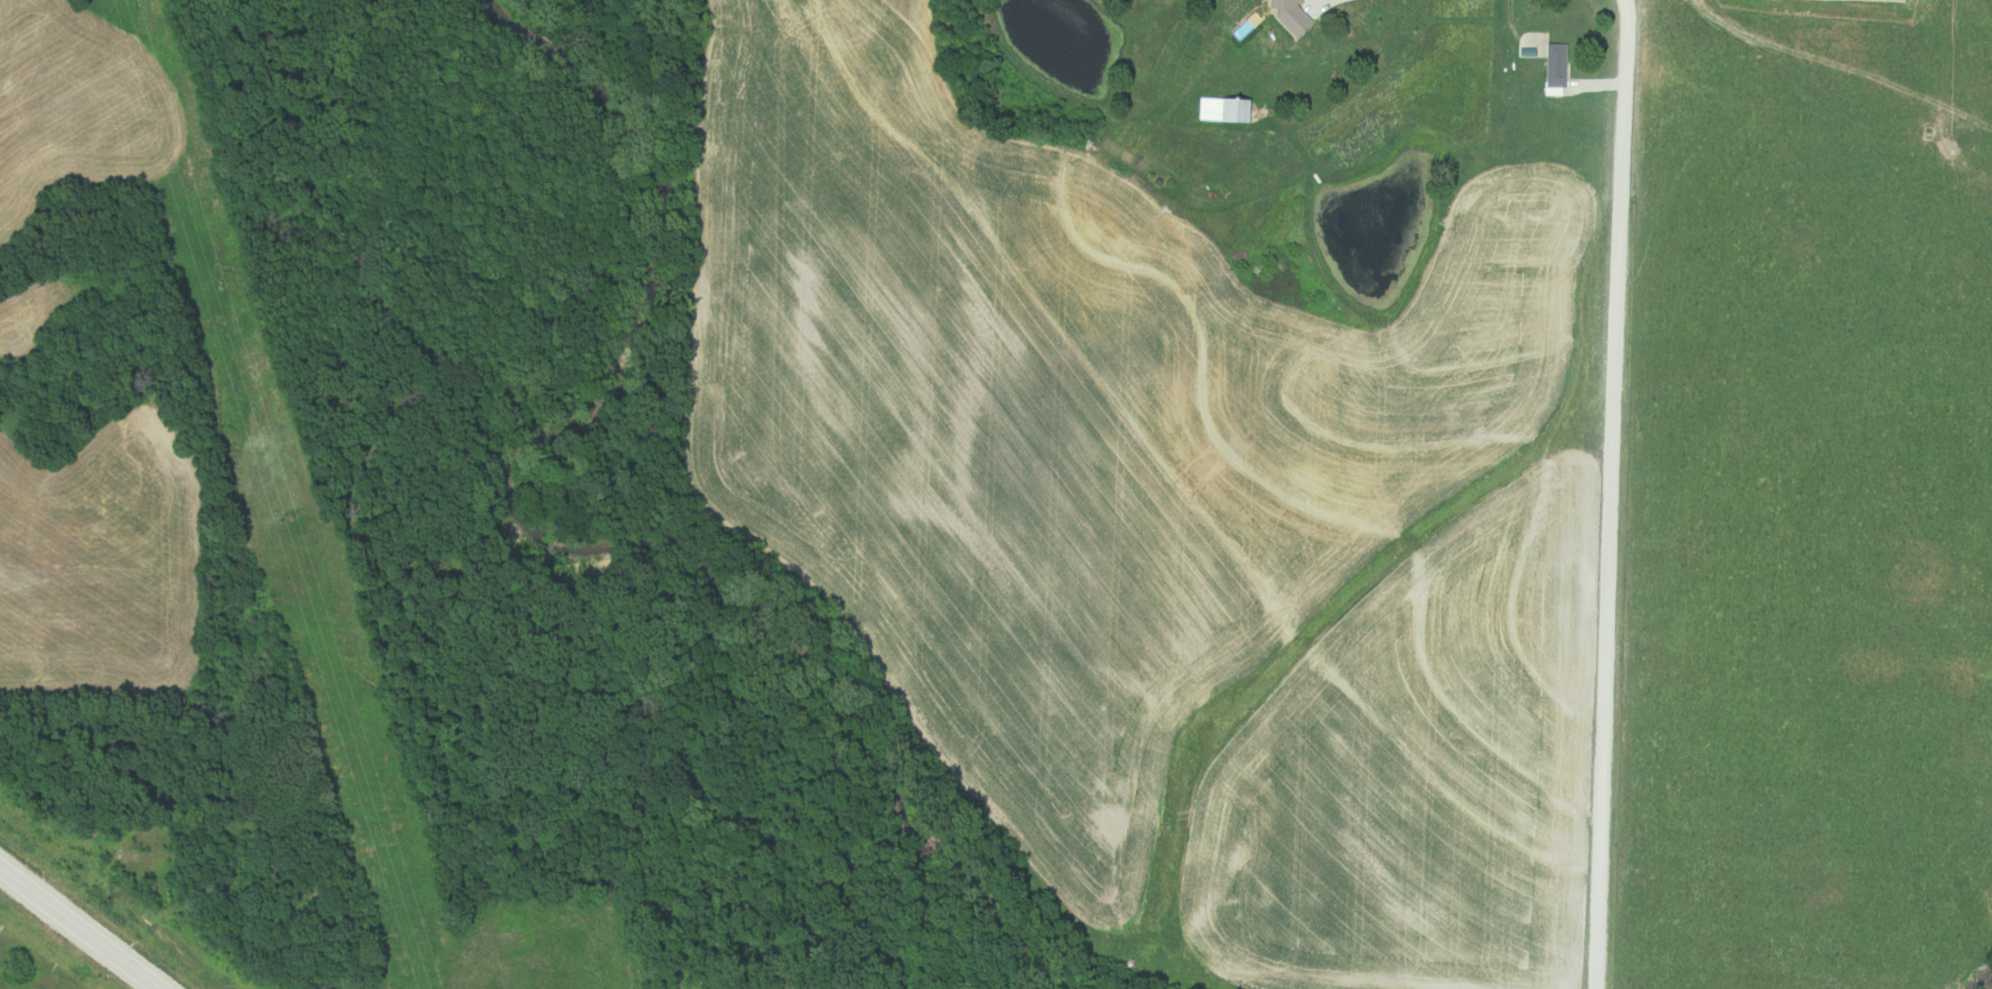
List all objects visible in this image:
building: (1280, 44)
building: (1553, 67)
crop: (75, 105)
road: (1837, 106)
building: (1220, 110)
crop: (50, 305)
crop: (1054, 419)
road: (1611, 494)
crop: (100, 558)
crop: (1419, 775)
road: (80, 928)

